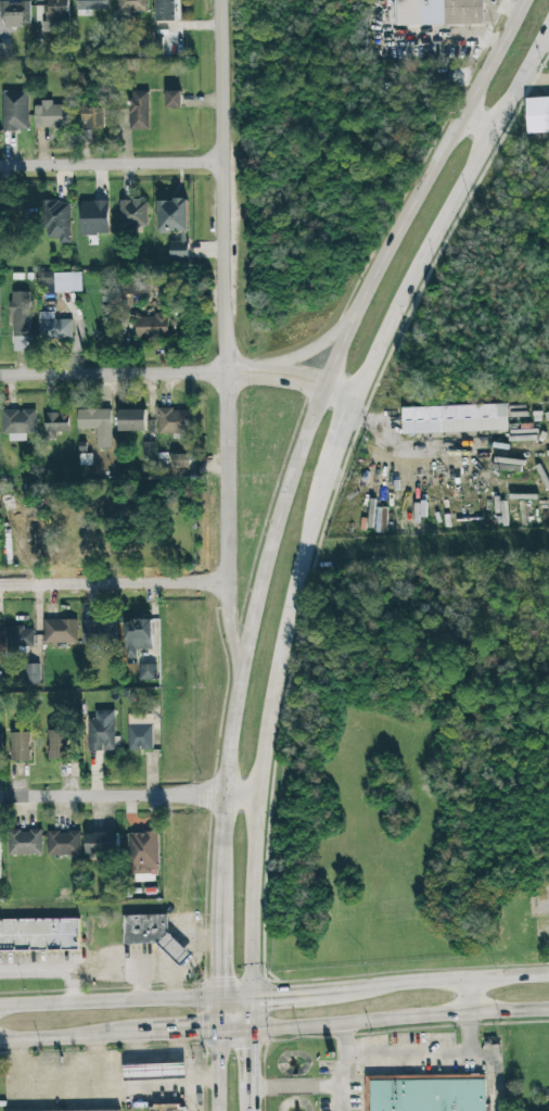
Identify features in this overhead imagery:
building: (132, 5)
building: (91, 7)
building: (166, 10)
building: (438, 12)
building: (14, 13)
building: (55, 14)
building: (174, 99)
building: (15, 110)
building: (139, 111)
building: (537, 114)
building: (51, 115)
building: (93, 117)
road: (475, 127)
road: (111, 163)
road: (451, 210)
building: (133, 213)
building: (173, 215)
building: (94, 217)
building: (58, 220)
building: (179, 248)
building: (68, 281)
building: (21, 320)
building: (152, 326)
building: (54, 327)
road: (225, 332)
road: (323, 341)
road: (293, 370)
road: (113, 373)
road: (290, 384)
building: (455, 418)
building: (132, 420)
building: (174, 421)
building: (20, 424)
building: (56, 424)
building: (98, 425)
road: (346, 425)
road: (307, 439)
building: (149, 449)
building: (181, 460)
road: (114, 589)
building: (61, 630)
building: (100, 632)
building: (20, 636)
building: (139, 636)
building: (148, 671)
building: (33, 673)
road: (270, 727)
building: (102, 731)
building: (140, 731)
building: (59, 744)
building: (0, 745)
building: (21, 746)
road: (114, 801)
building: (25, 842)
building: (64, 843)
building: (102, 843)
building: (143, 853)
building: (0, 857)
building: (144, 929)
building: (39, 935)
building: (174, 948)
gas station: (174, 948)
road: (52, 971)
road: (156, 973)
road: (218, 975)
traffic signals: (218, 976)
road: (435, 980)
road: (174, 986)
road: (138, 987)
road: (269, 995)
traffic signals: (271, 995)
road: (464, 996)
road: (107, 1002)
road: (251, 1012)
road: (399, 1018)
road: (192, 1033)
traffic signals: (197, 1033)
road: (66, 1037)
traffic signals: (252, 1047)
road: (410, 1049)
road: (489, 1058)
road: (342, 1065)
road: (252, 1070)
building: (155, 1071)
gas station: (155, 1071)
road: (217, 1071)
road: (295, 1086)
building: (425, 1093)
building: (167, 1108)
building: (110, 1110)

